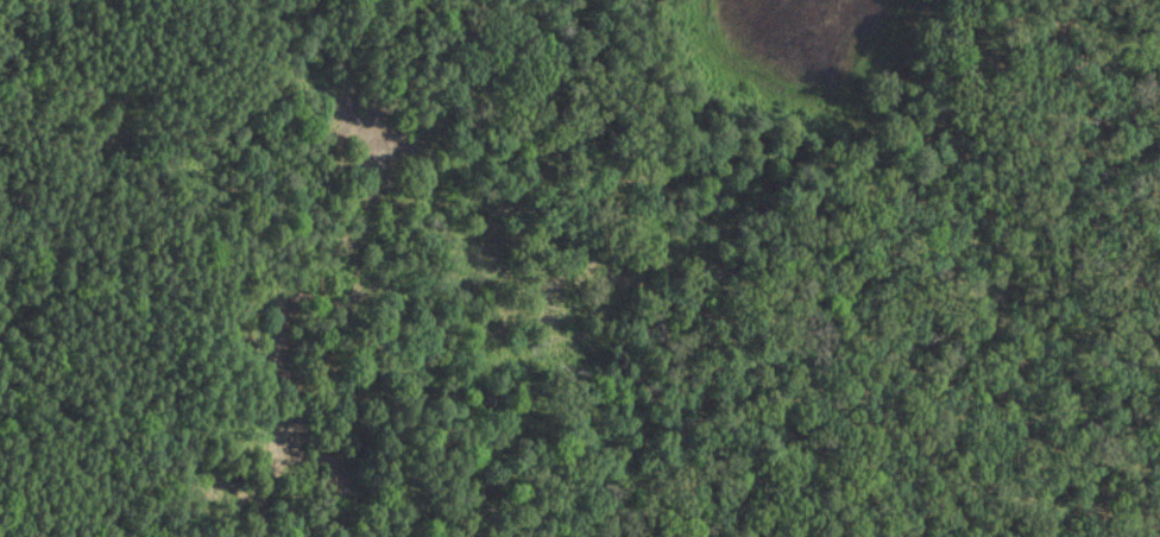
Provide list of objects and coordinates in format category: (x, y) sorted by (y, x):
road: (837, 227)

